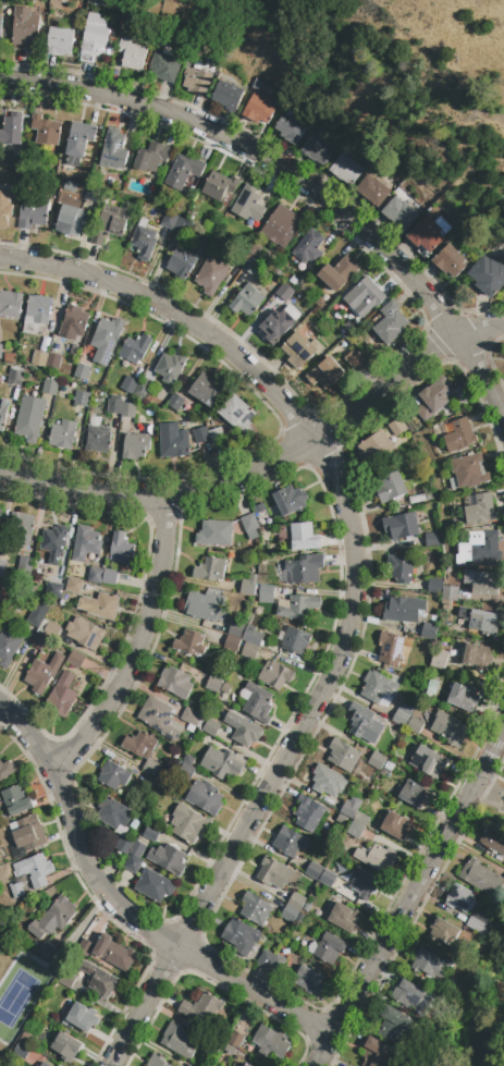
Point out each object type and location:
building: (25, 28)
building: (0, 33)
building: (5, 34)
building: (94, 38)
building: (60, 41)
building: (131, 53)
building: (163, 68)
building: (196, 81)
building: (226, 95)
building: (258, 108)
building: (291, 126)
building: (11, 130)
building: (46, 130)
building: (78, 142)
building: (113, 149)
building: (317, 149)
building: (151, 157)
building: (344, 169)
building: (184, 170)
road: (300, 180)
building: (219, 185)
building: (372, 189)
building: (91, 194)
building: (247, 204)
building: (5, 207)
building: (33, 211)
building: (399, 212)
building: (170, 219)
building: (71, 220)
building: (111, 221)
building: (143, 222)
building: (442, 224)
building: (182, 225)
building: (281, 225)
building: (427, 234)
building: (144, 242)
building: (309, 247)
building: (251, 248)
building: (451, 260)
building: (182, 262)
building: (251, 267)
building: (339, 273)
building: (210, 274)
building: (488, 274)
building: (292, 280)
building: (284, 292)
building: (365, 296)
building: (246, 301)
building: (10, 304)
building: (38, 308)
road: (176, 319)
building: (73, 322)
building: (278, 323)
building: (390, 323)
building: (106, 339)
building: (299, 347)
building: (135, 348)
building: (0, 351)
building: (39, 358)
building: (52, 360)
building: (355, 360)
building: (170, 367)
building: (82, 371)
building: (325, 372)
building: (14, 377)
building: (128, 384)
building: (49, 388)
building: (143, 390)
building: (206, 390)
building: (434, 397)
building: (81, 399)
building: (174, 402)
building: (114, 405)
building: (127, 409)
building: (2, 412)
building: (237, 413)
building: (29, 418)
building: (396, 427)
building: (63, 434)
building: (200, 434)
building: (217, 436)
building: (459, 436)
building: (98, 439)
building: (173, 440)
building: (134, 446)
building: (374, 446)
road: (269, 464)
building: (468, 471)
building: (388, 487)
building: (416, 499)
building: (290, 500)
building: (259, 509)
building: (479, 509)
building: (0, 511)
building: (249, 525)
building: (401, 526)
building: (19, 529)
building: (214, 532)
building: (304, 537)
building: (432, 539)
building: (53, 542)
building: (86, 543)
building: (477, 546)
building: (121, 549)
building: (24, 564)
building: (2, 567)
building: (305, 568)
building: (398, 568)
building: (210, 569)
building: (95, 575)
building: (110, 577)
building: (482, 581)
building: (248, 584)
building: (74, 586)
building: (435, 586)
building: (53, 591)
building: (267, 592)
building: (450, 593)
building: (4, 596)
building: (99, 605)
building: (206, 605)
building: (299, 608)
building: (403, 610)
building: (37, 613)
building: (479, 620)
building: (236, 629)
building: (51, 630)
building: (429, 630)
building: (84, 633)
building: (295, 640)
building: (38, 641)
building: (189, 642)
building: (232, 644)
building: (253, 644)
road: (138, 645)
building: (8, 646)
building: (390, 647)
building: (476, 655)
building: (76, 659)
building: (439, 659)
building: (453, 670)
building: (42, 673)
building: (275, 674)
building: (175, 682)
building: (216, 685)
building: (378, 686)
building: (432, 687)
building: (61, 697)
building: (463, 697)
building: (257, 702)
building: (402, 714)
building: (190, 718)
building: (160, 719)
building: (364, 723)
building: (415, 725)
building: (210, 727)
building: (243, 728)
building: (448, 728)
building: (139, 745)
building: (342, 755)
building: (377, 760)
building: (222, 762)
building: (429, 762)
road: (280, 765)
building: (151, 767)
building: (187, 767)
building: (5, 769)
building: (113, 774)
building: (328, 781)
building: (413, 793)
building: (204, 797)
building: (15, 799)
building: (349, 807)
building: (113, 812)
building: (309, 812)
building: (360, 818)
building: (188, 823)
building: (394, 825)
building: (355, 830)
building: (151, 832)
building: (27, 833)
building: (493, 840)
building: (290, 841)
building: (131, 853)
building: (376, 857)
building: (168, 858)
building: (503, 866)
building: (34, 869)
building: (314, 870)
building: (274, 872)
building: (481, 877)
building: (327, 878)
building: (503, 881)
building: (364, 883)
building: (153, 885)
building: (16, 890)
road: (410, 896)
building: (460, 898)
building: (296, 900)
building: (306, 908)
building: (256, 909)
road: (122, 911)
building: (290, 914)
building: (344, 917)
building: (53, 918)
building: (300, 919)
building: (479, 922)
building: (443, 932)
building: (241, 936)
building: (85, 948)
building: (328, 948)
building: (46, 951)
building: (114, 953)
building: (271, 961)
building: (430, 964)
building: (66, 979)
building: (309, 980)
building: (99, 981)
building: (410, 996)
building: (201, 1009)
building: (83, 1017)
building: (394, 1025)
building: (235, 1039)
building: (179, 1041)
building: (271, 1042)
building: (65, 1046)
building: (230, 1049)
building: (378, 1053)
building: (157, 1061)
building: (44, 1064)
building: (247, 1064)
building: (38, 1065)
building: (244, 1065)

